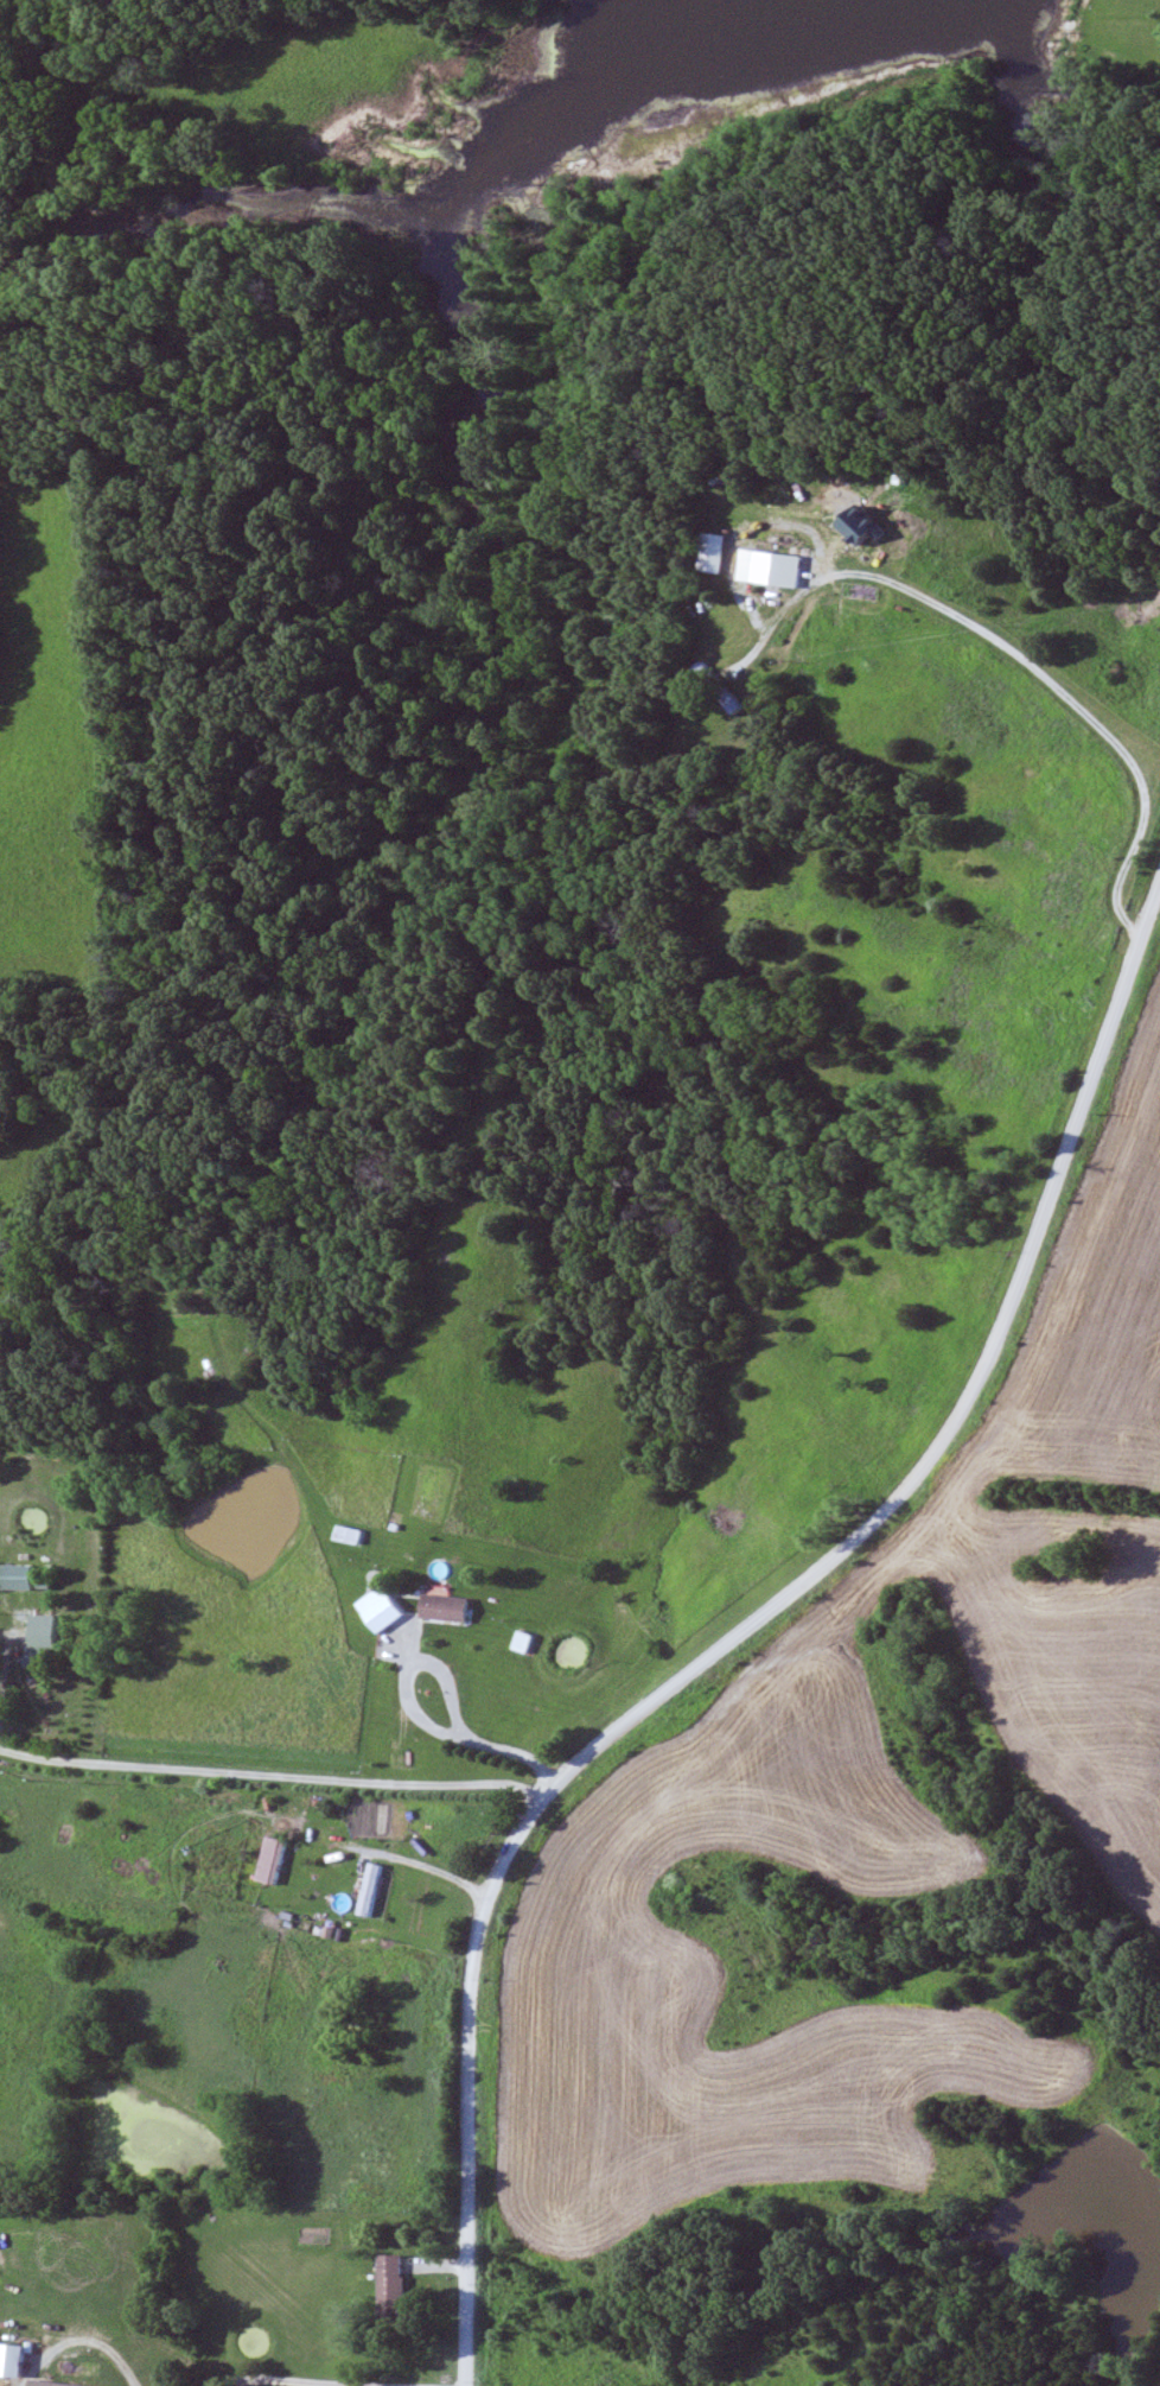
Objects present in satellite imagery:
building: (780, 569)
road: (1019, 656)
building: (741, 705)
building: (452, 1608)
building: (389, 1610)
road: (754, 1631)
building: (51, 1636)
building: (530, 1642)
road: (489, 1751)
road: (400, 1776)
road: (280, 1777)
road: (204, 1846)
building: (278, 1860)
building: (399, 2287)
road: (83, 2341)
road: (292, 2381)
building: (52, 2384)

